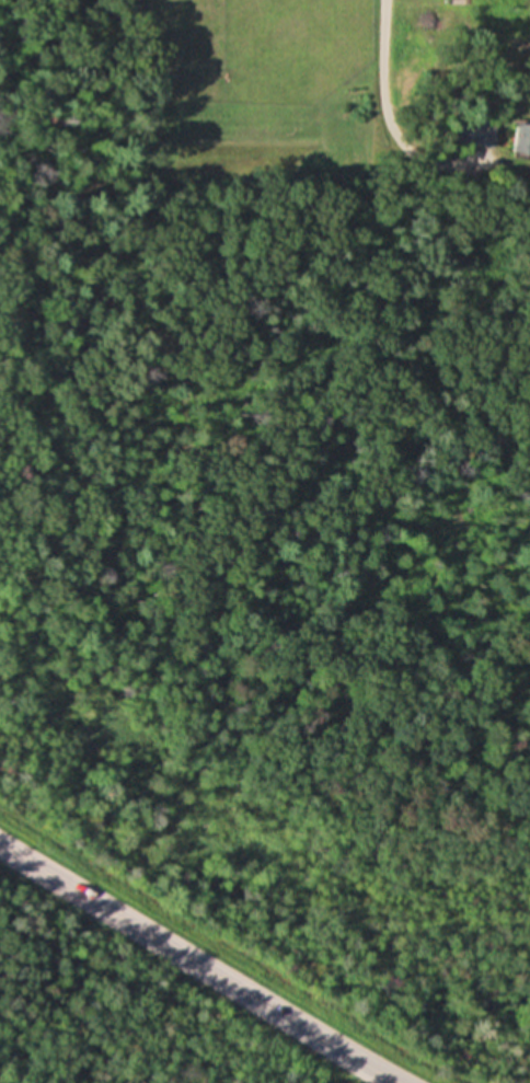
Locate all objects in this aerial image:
road: (390, 106)
building: (473, 130)
building: (516, 137)
road: (198, 963)

